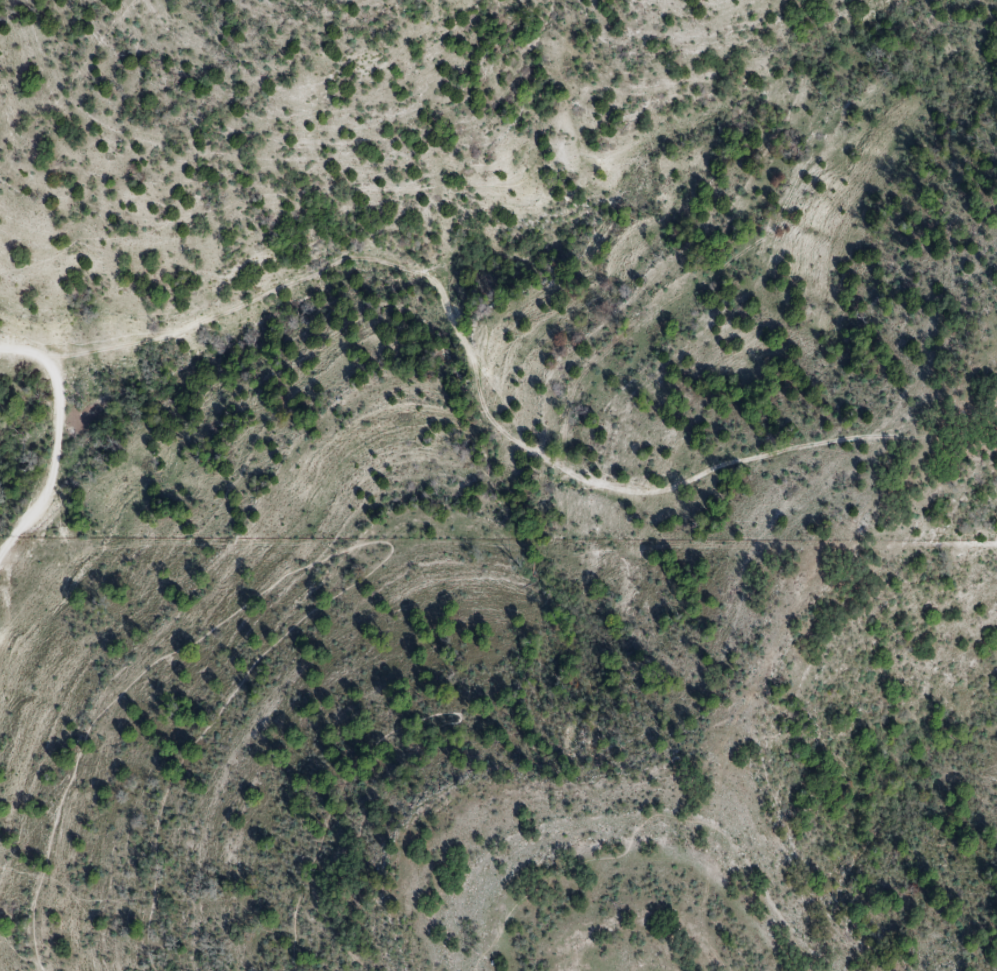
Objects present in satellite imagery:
road: (55, 439)
road: (343, 551)
road: (413, 726)
road: (651, 820)

